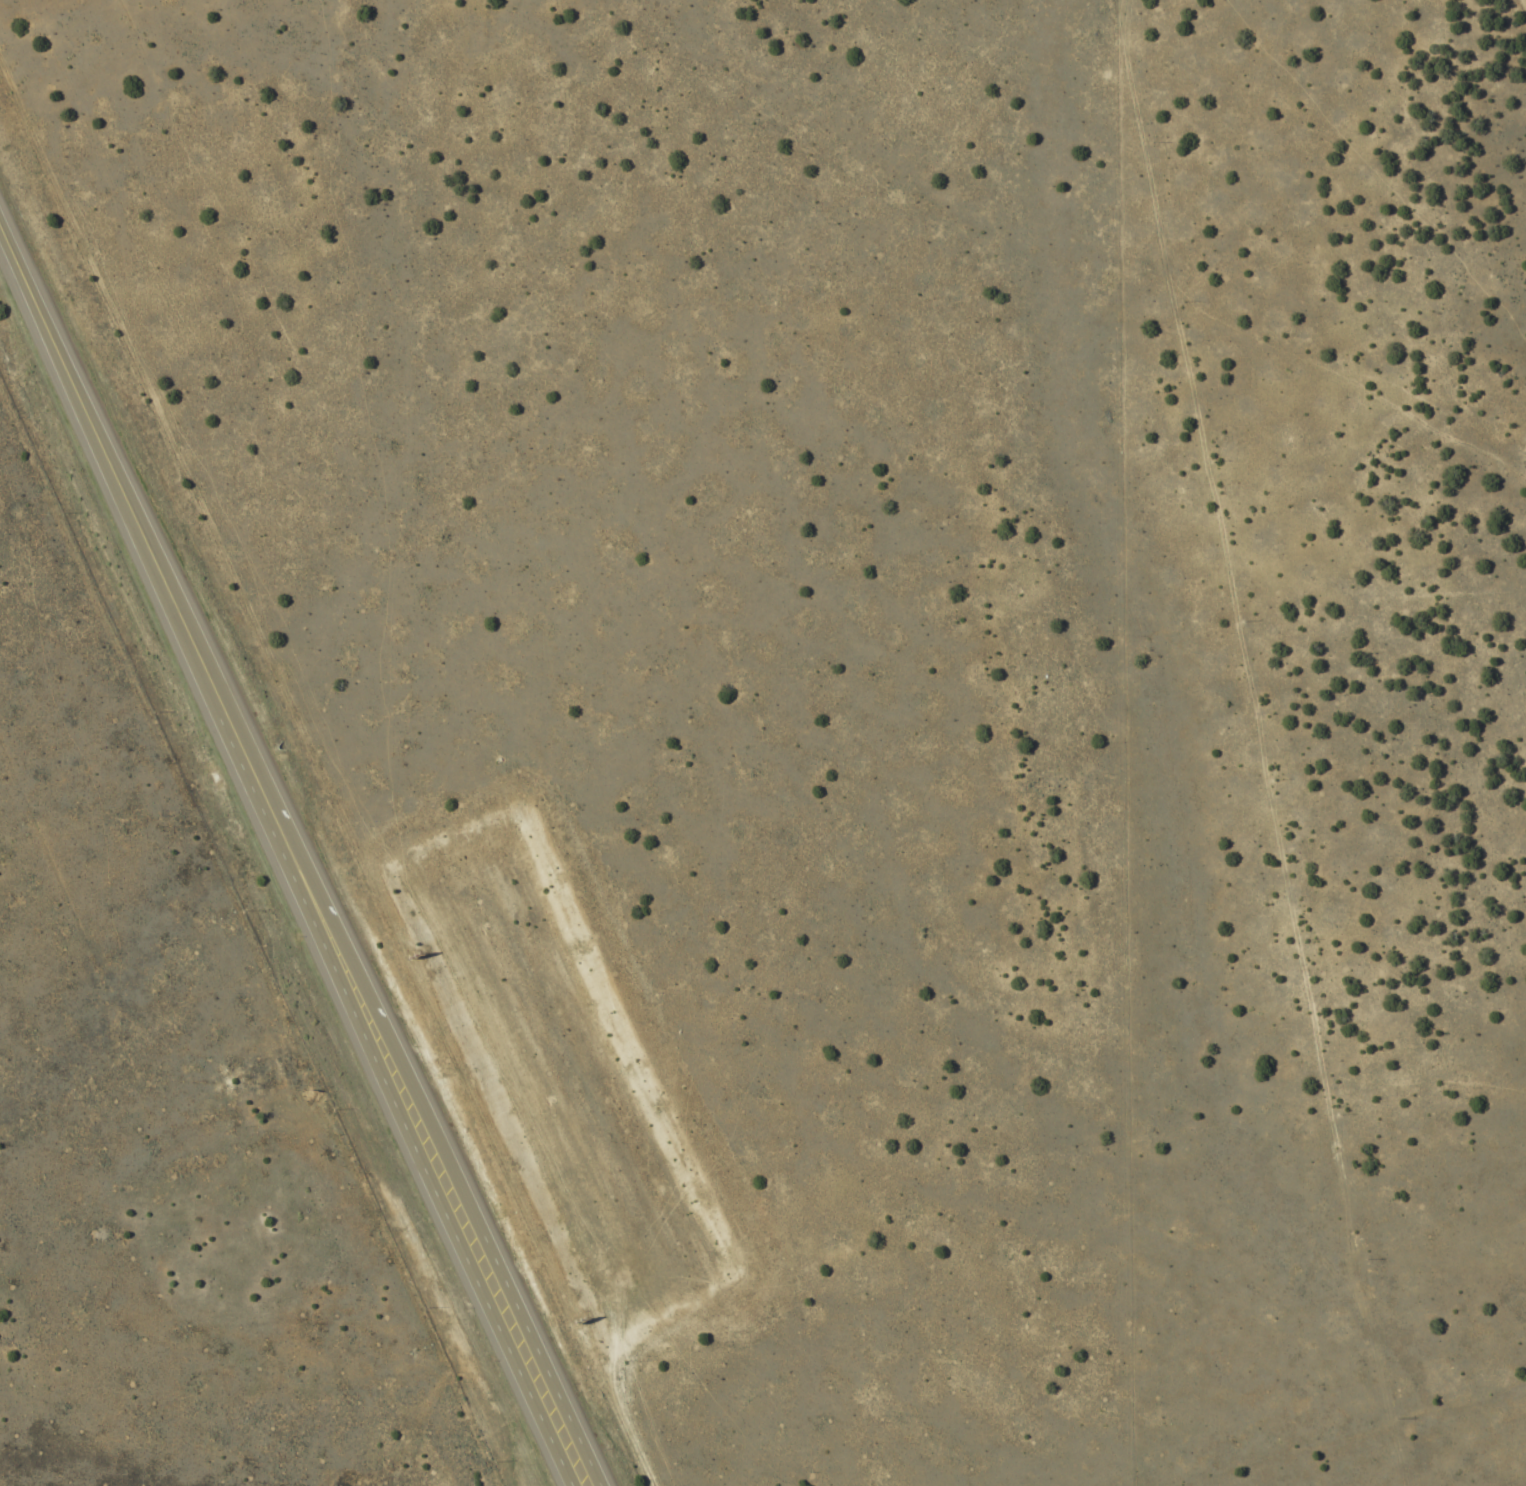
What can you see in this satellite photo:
road: (104, 471)
road: (338, 973)
road: (520, 1364)

